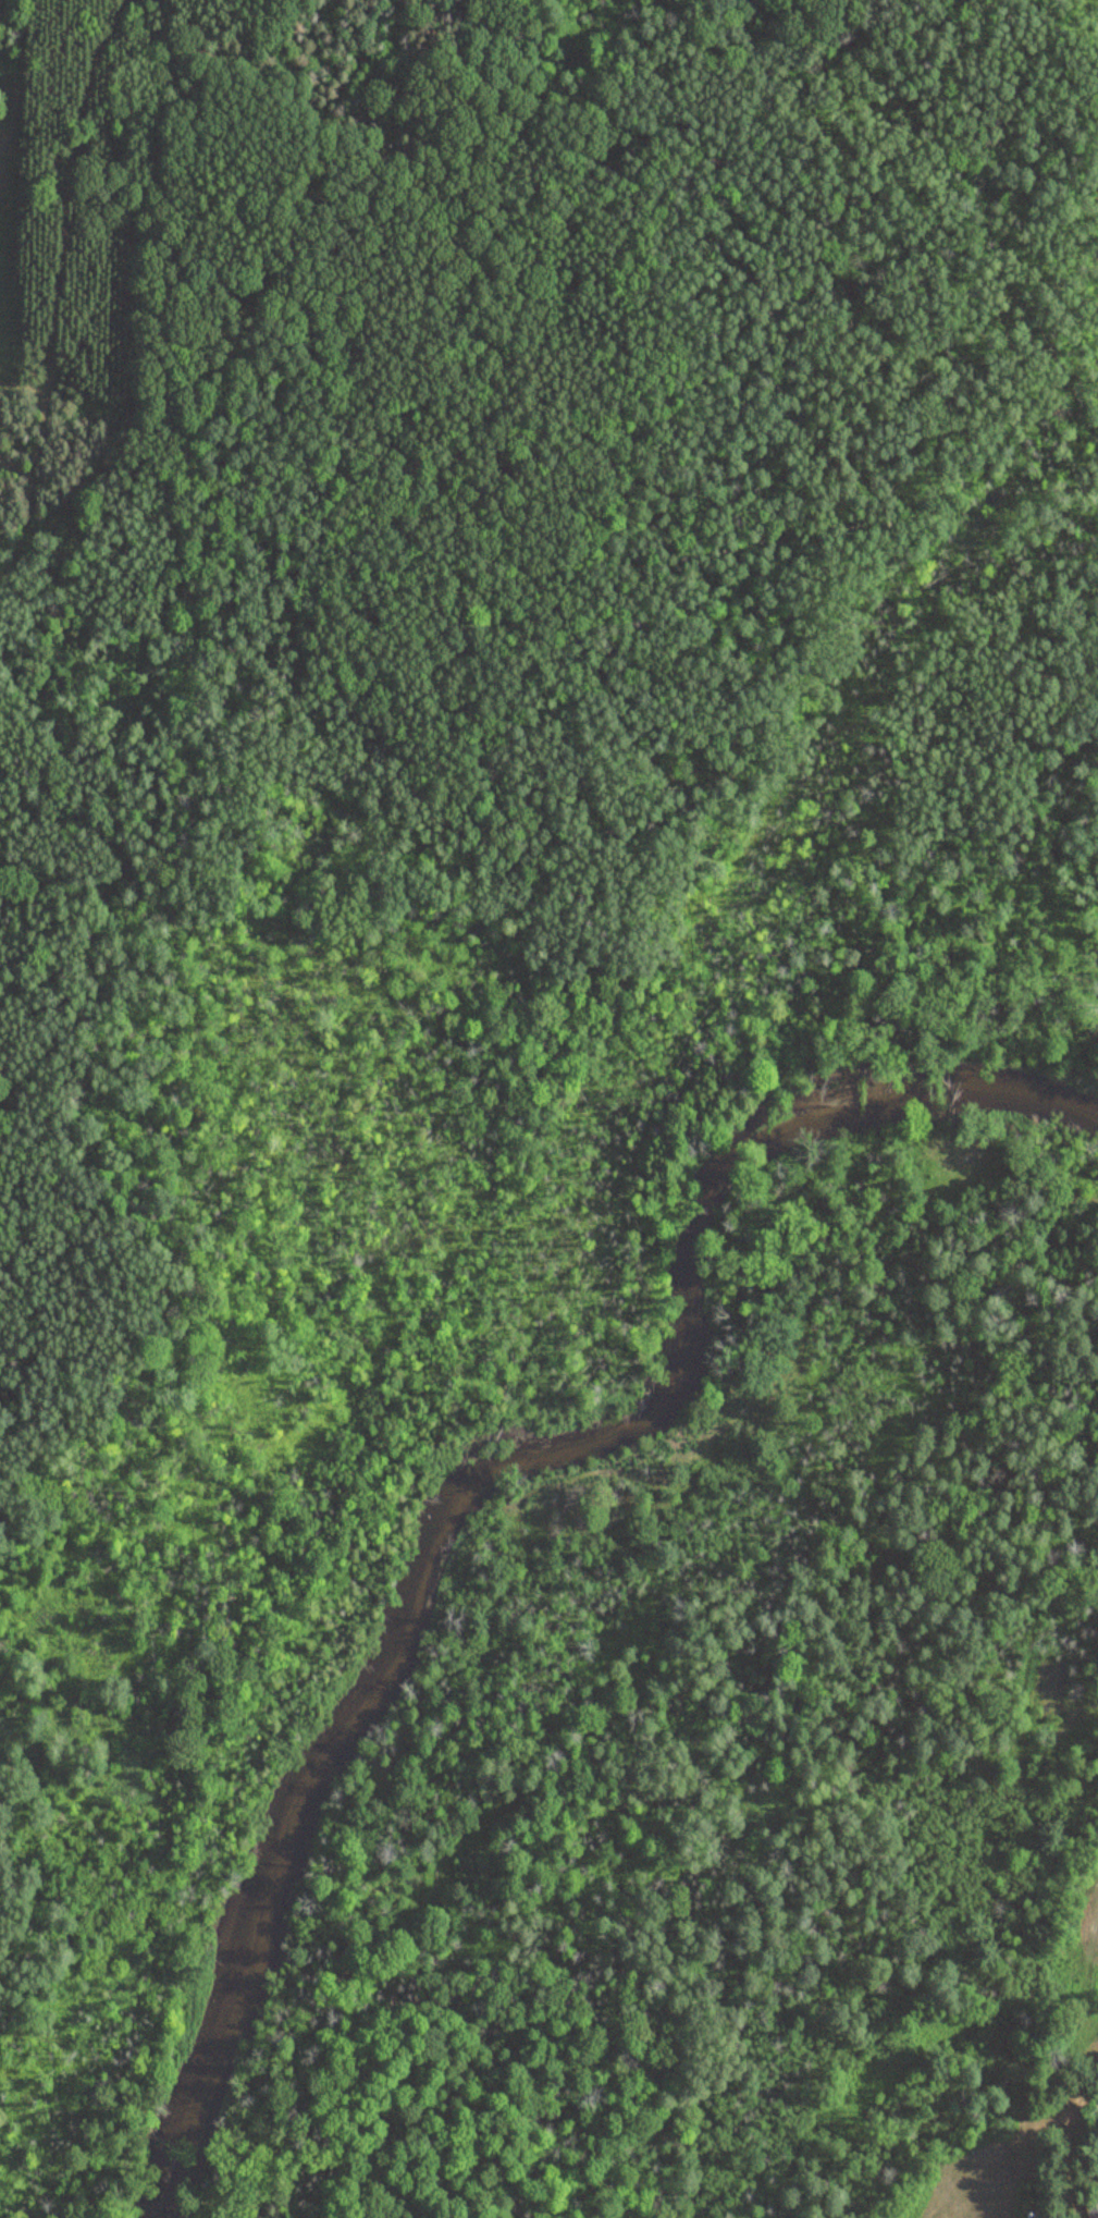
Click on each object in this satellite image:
river: (502, 1467)
building: (1091, 2205)

